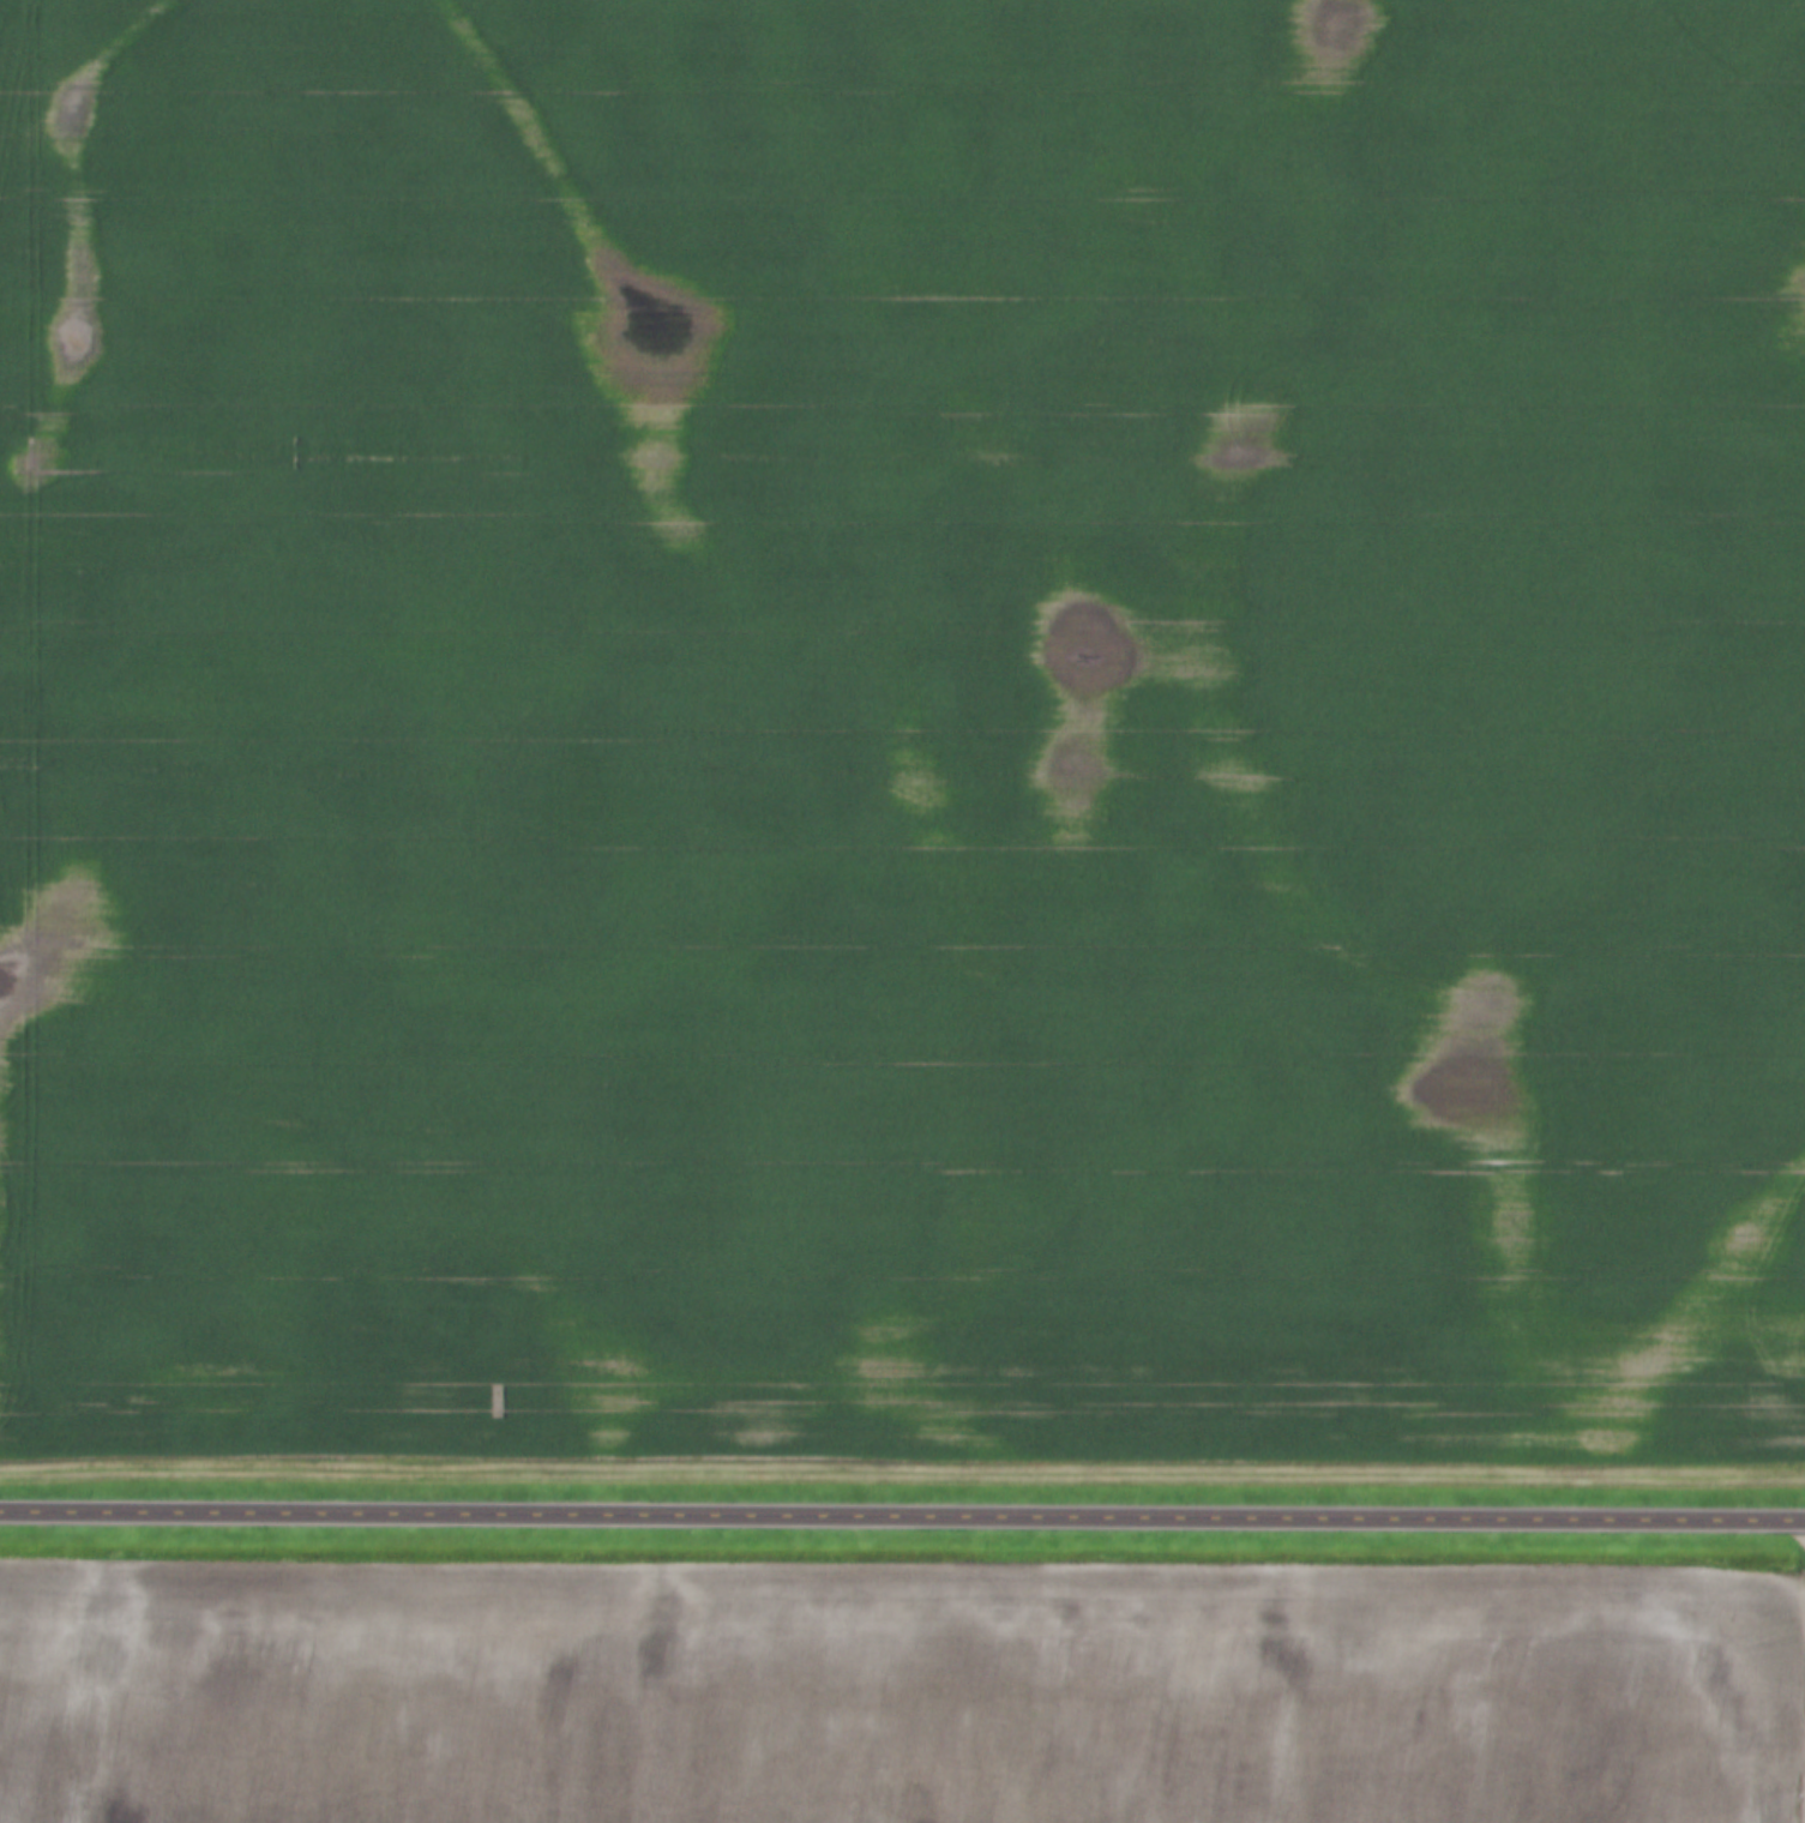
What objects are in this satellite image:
road: (902, 1521)

